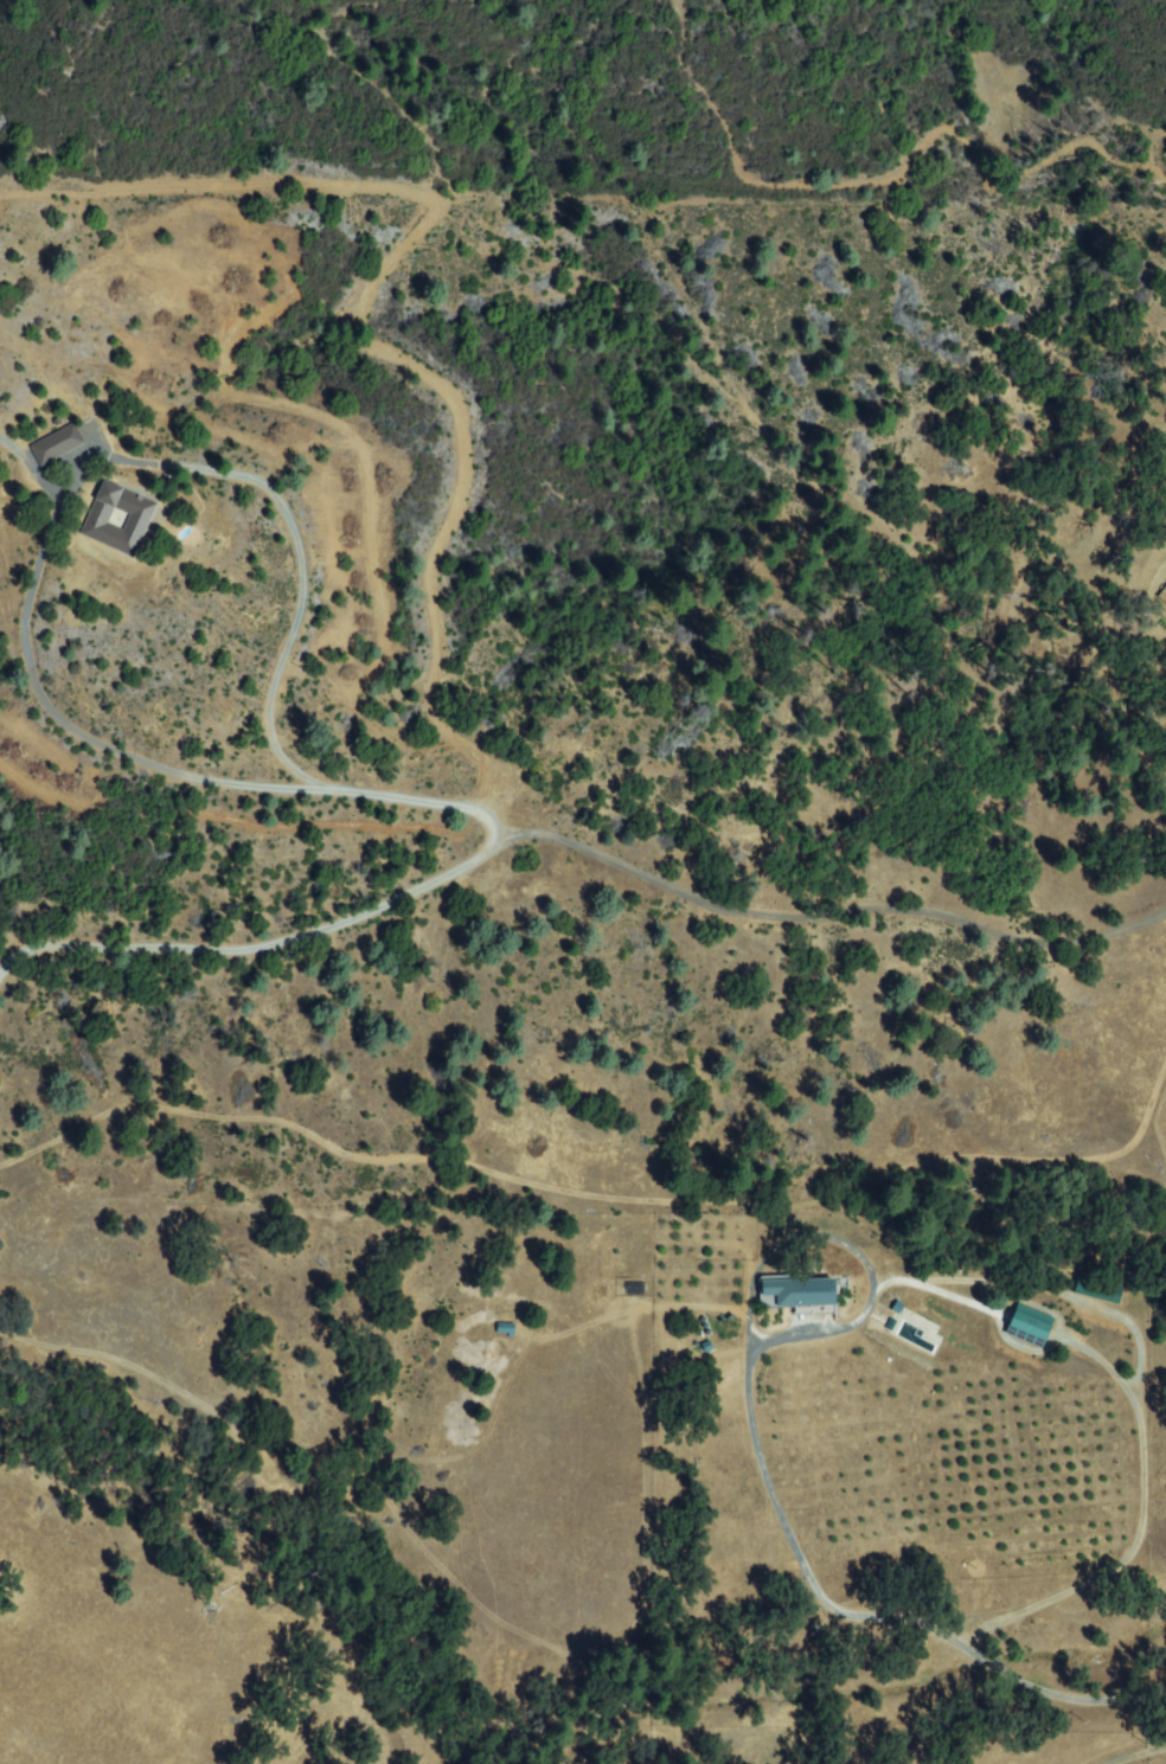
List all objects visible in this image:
road: (748, 158)
building: (43, 444)
building: (58, 445)
building: (95, 519)
building: (120, 519)
building: (1164, 596)
road: (438, 612)
road: (52, 693)
road: (475, 810)
road: (591, 1192)
road: (724, 1232)
building: (813, 1298)
building: (1030, 1328)
road: (725, 1336)
road: (1136, 1755)

